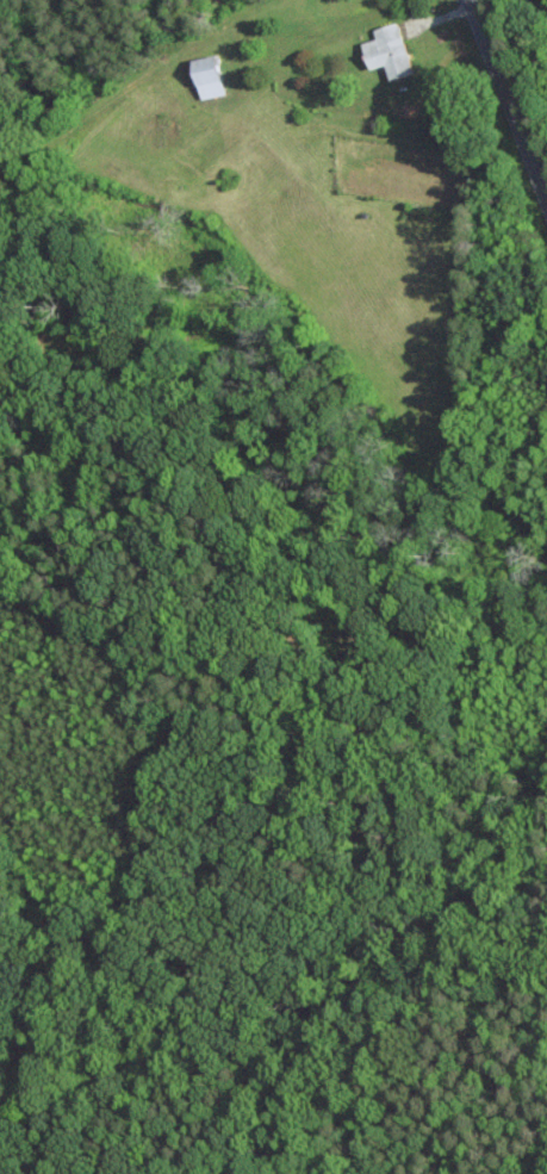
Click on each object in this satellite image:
building: (386, 50)
building: (206, 76)
road: (506, 103)

